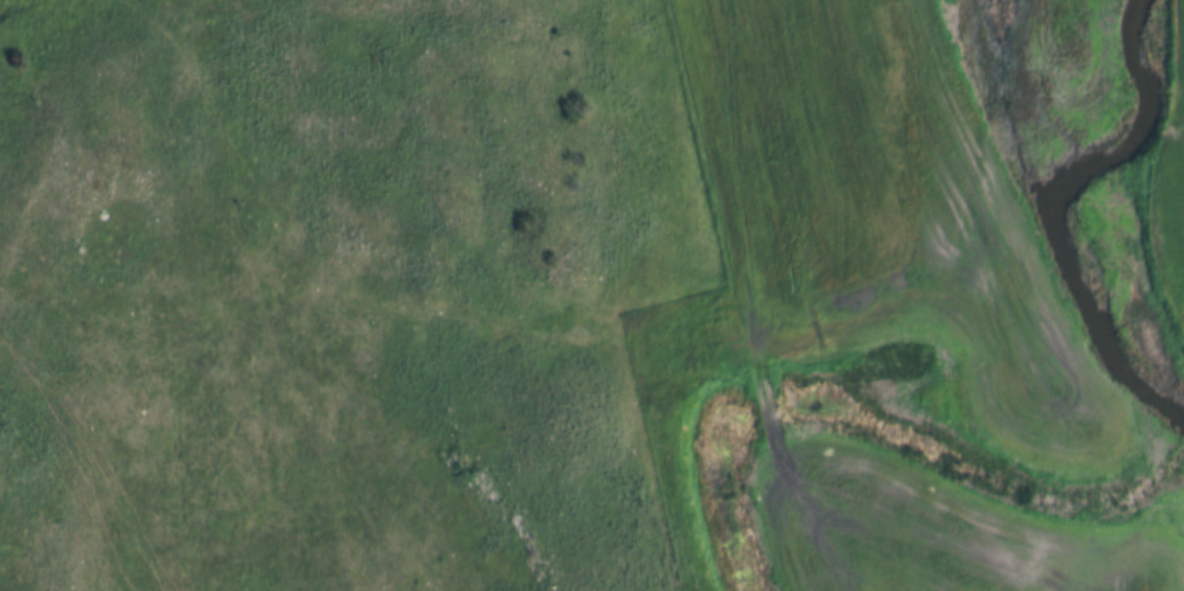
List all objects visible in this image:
river: (1060, 210)

